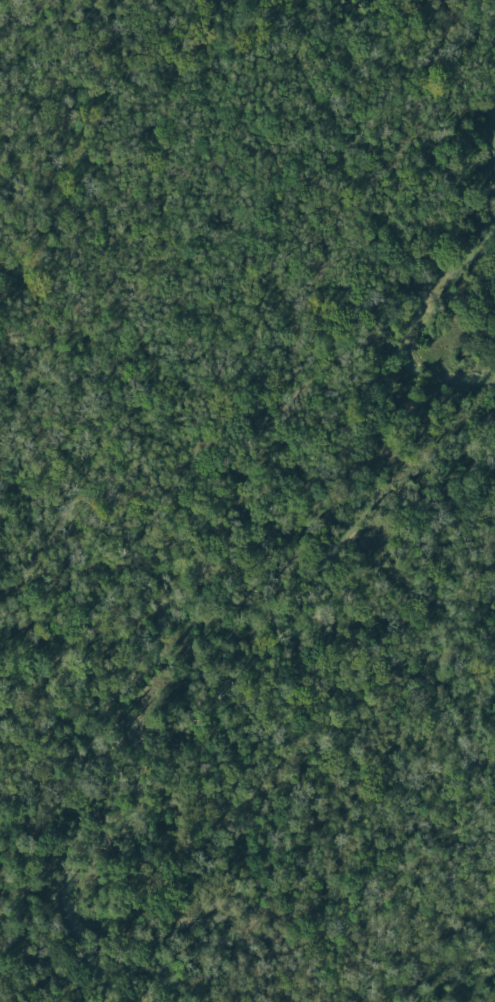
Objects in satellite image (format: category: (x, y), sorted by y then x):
river: (444, 273)
park: (247, 501)
river: (148, 641)

